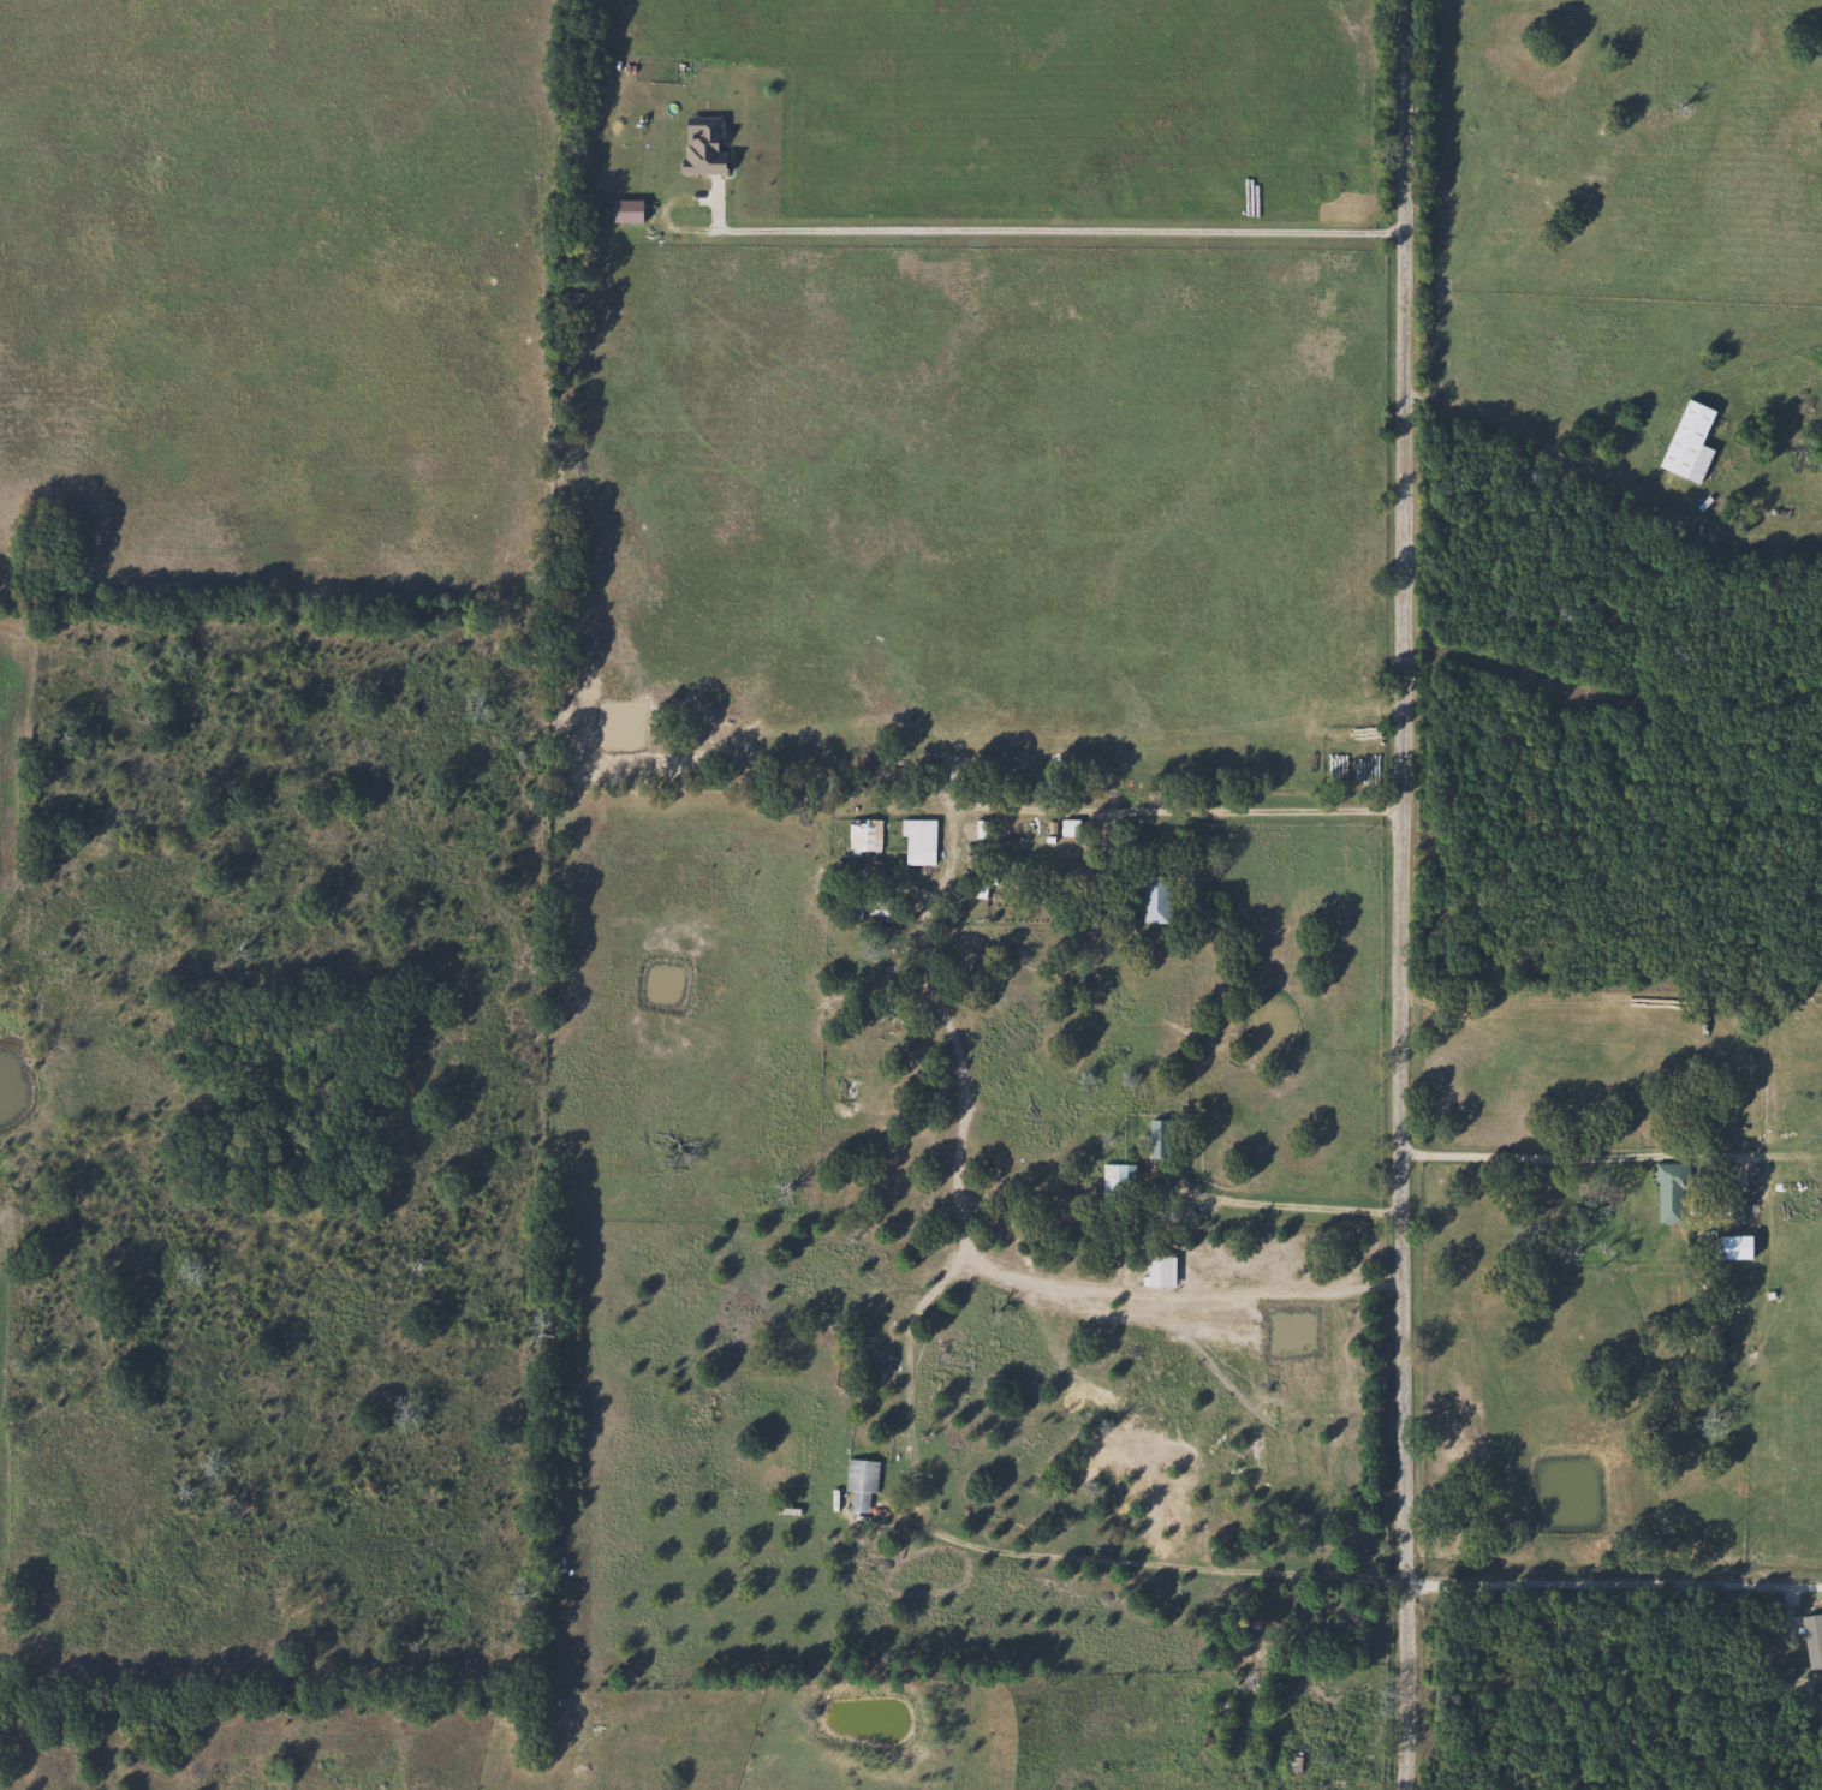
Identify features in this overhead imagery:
road: (982, 233)
building: (1685, 441)
road: (1189, 809)
building: (862, 835)
building: (917, 841)
building: (1029, 841)
road: (1401, 895)
building: (1153, 899)
building: (1155, 1138)
road: (1546, 1156)
building: (1115, 1179)
road: (1288, 1193)
building: (1669, 1193)
building: (862, 1361)
building: (1254, 1452)
building: (858, 1481)
road: (1151, 1562)
road: (1612, 1587)
building: (1219, 1712)
building: (1291, 1773)

